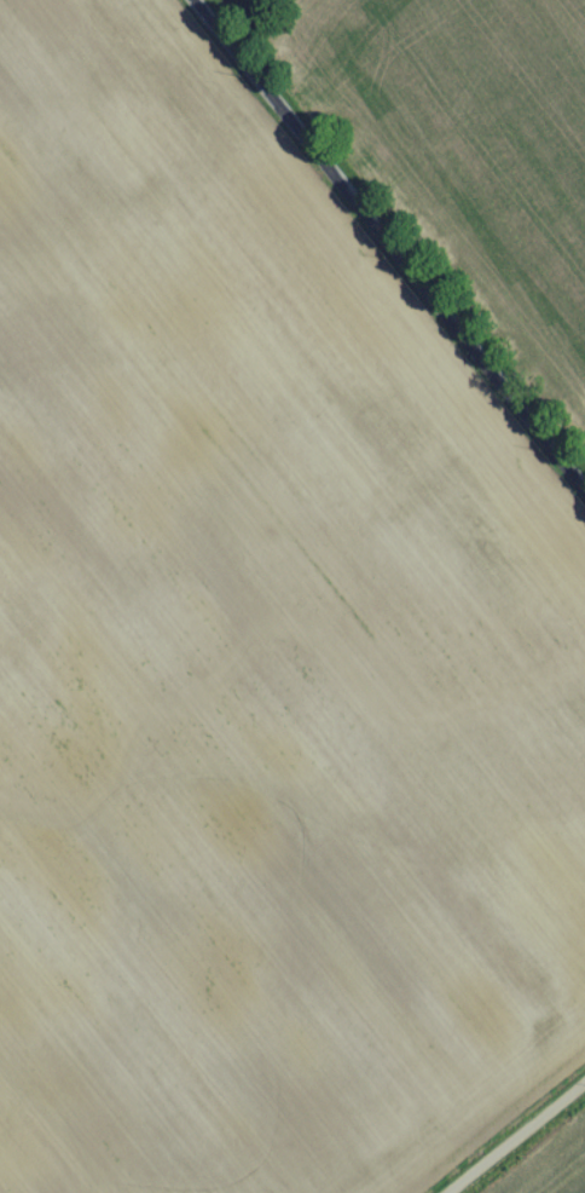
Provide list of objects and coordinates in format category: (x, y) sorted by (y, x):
road: (388, 249)
road: (517, 1139)

